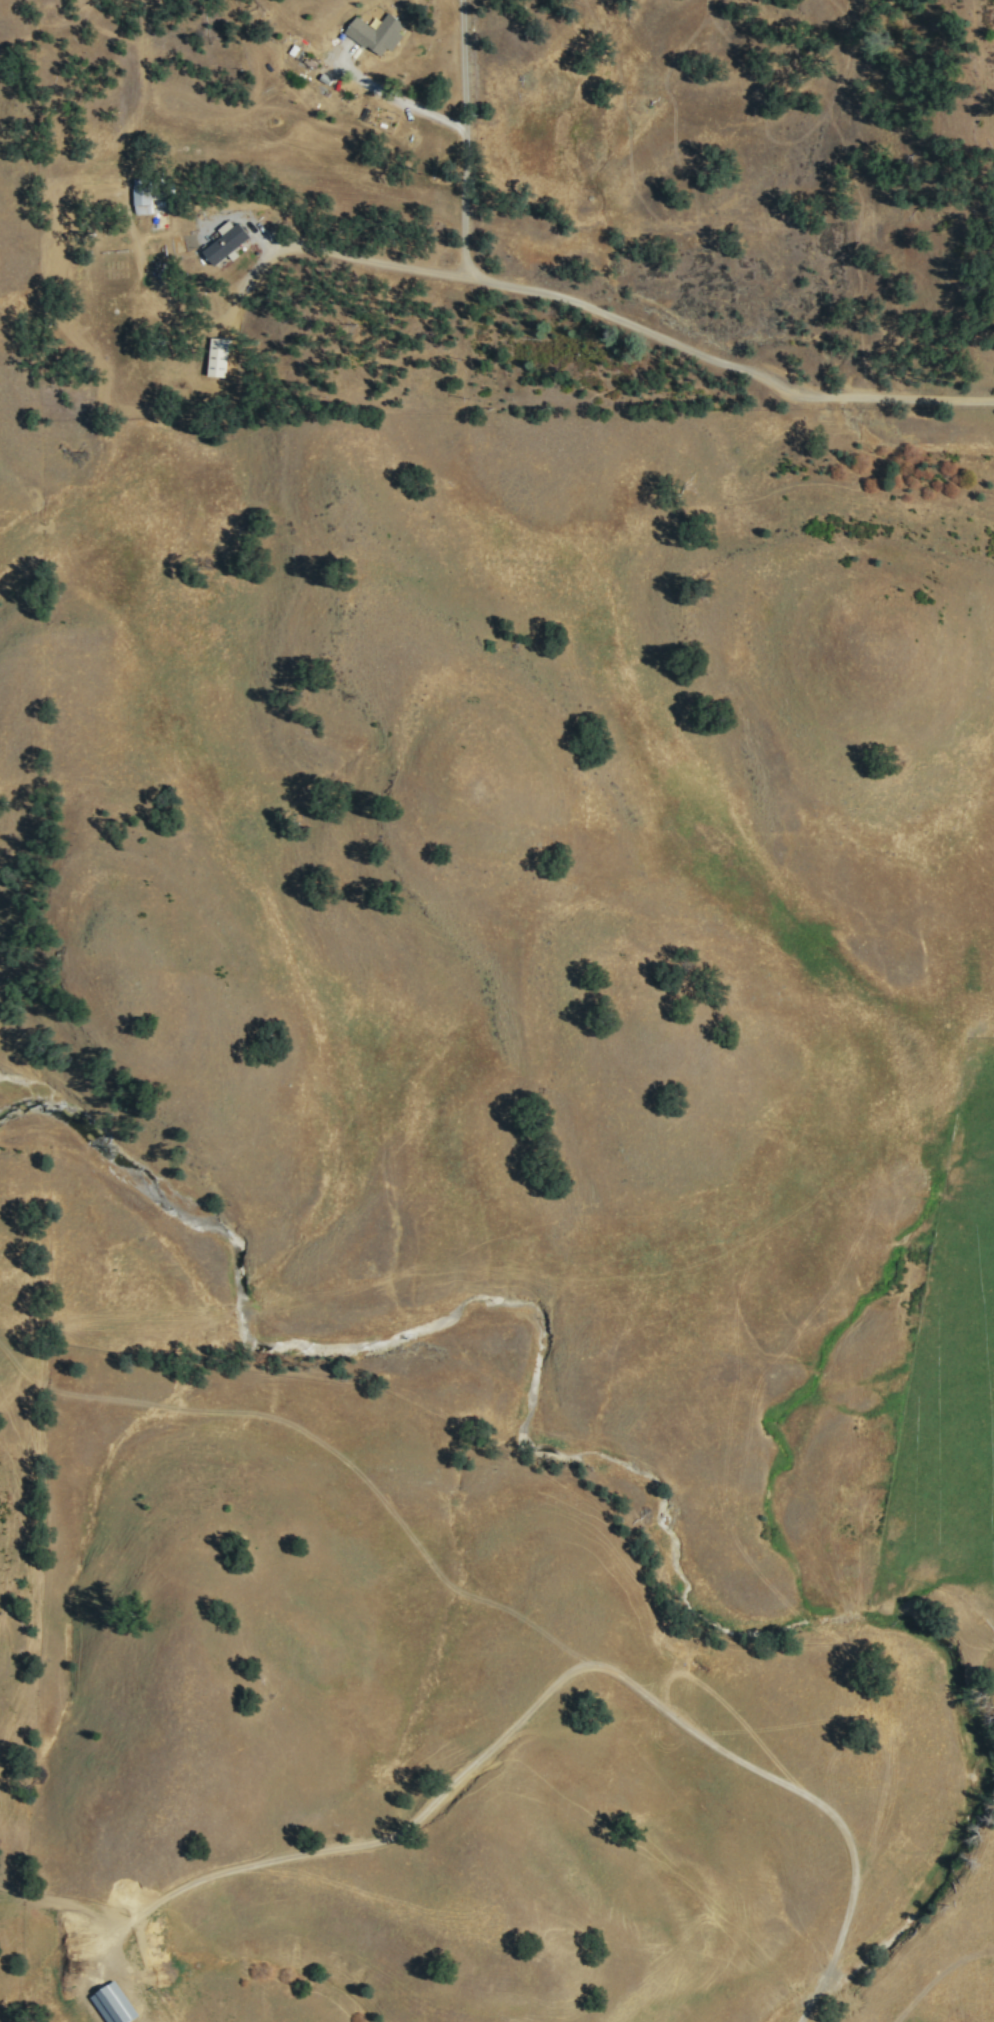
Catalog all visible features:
building: (377, 32)
road: (463, 64)
road: (476, 136)
building: (148, 196)
building: (227, 243)
road: (376, 260)
building: (218, 356)
road: (734, 369)
road: (565, 1672)
road: (56, 1901)
building: (115, 2003)

